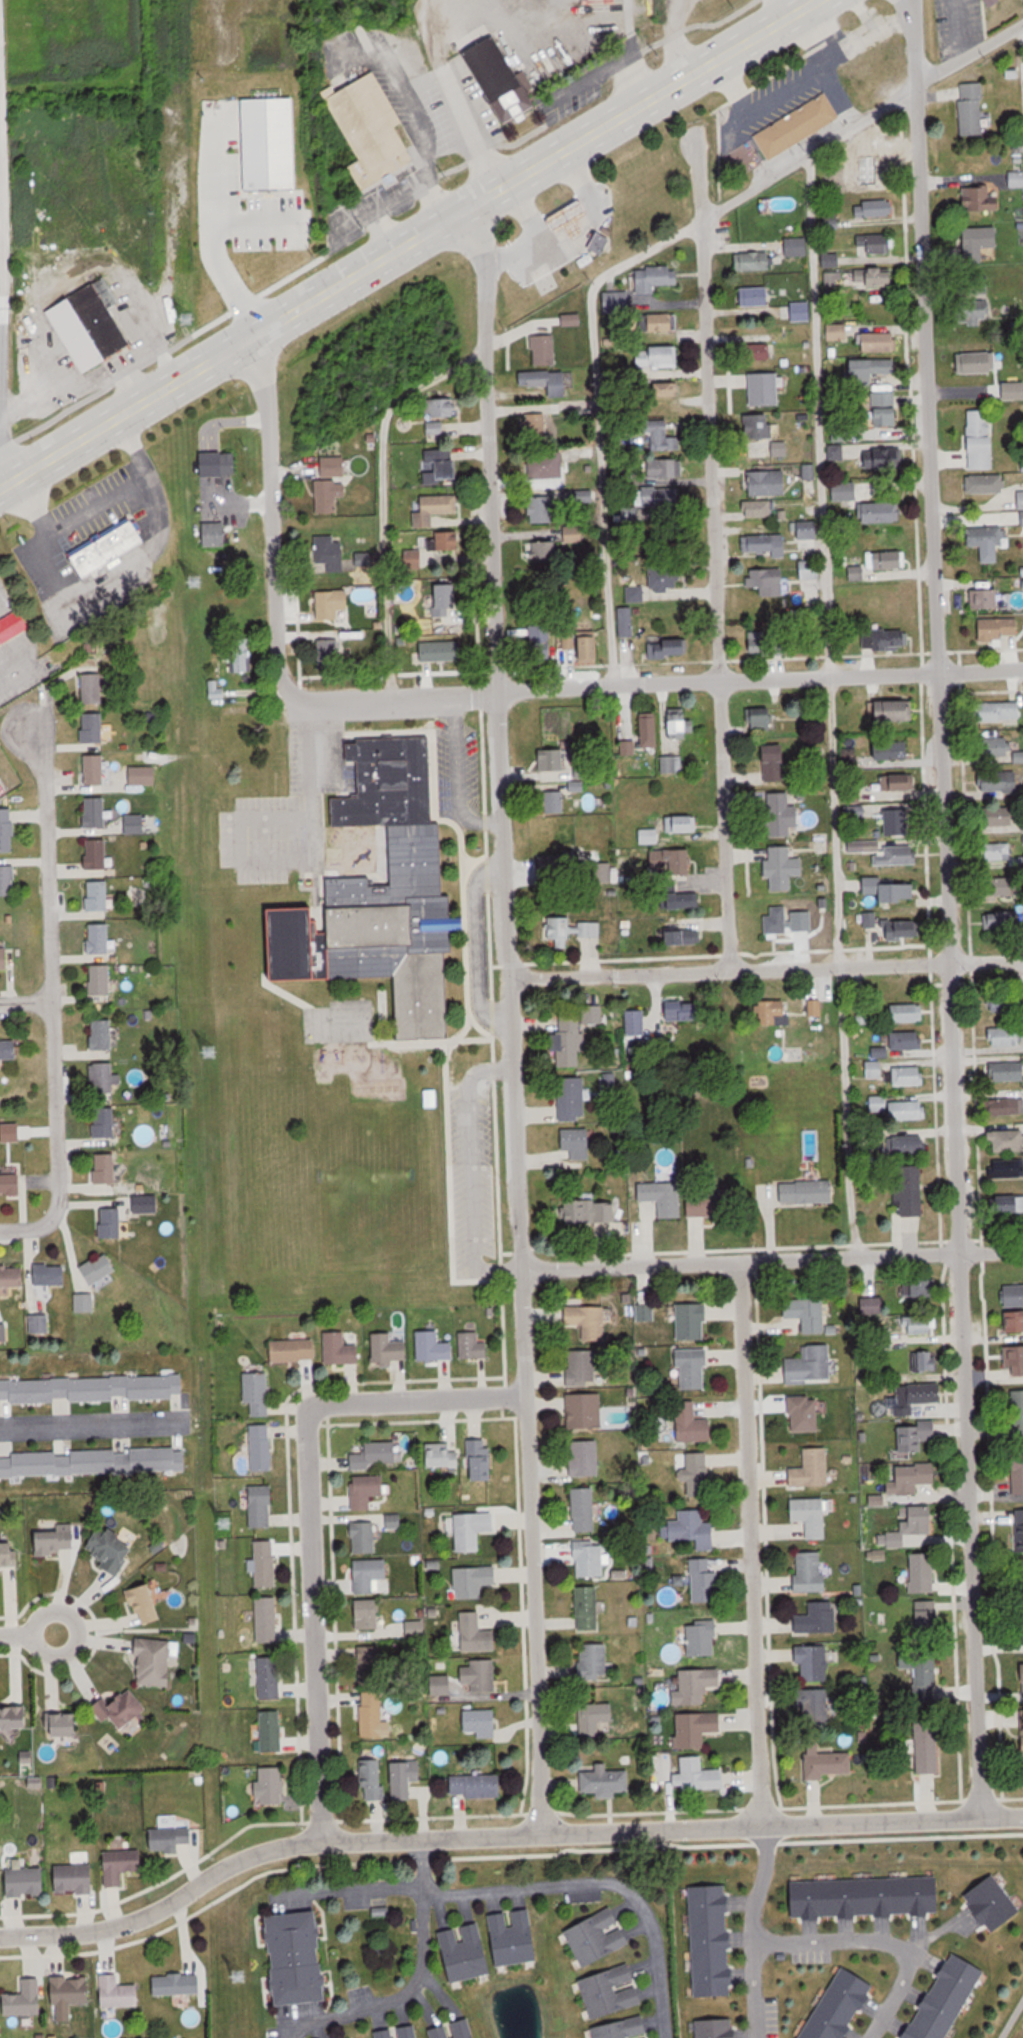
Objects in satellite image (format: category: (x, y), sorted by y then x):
building: (992, 3)
road: (824, 26)
road: (874, 27)
road: (957, 32)
road: (846, 47)
building: (501, 81)
road: (417, 90)
road: (839, 95)
road: (757, 106)
building: (971, 110)
road: (862, 122)
building: (797, 126)
building: (372, 132)
building: (208, 133)
building: (270, 144)
building: (1015, 179)
road: (588, 185)
building: (978, 200)
building: (874, 208)
road: (383, 214)
road: (529, 214)
building: (574, 219)
building: (830, 220)
road: (580, 228)
road: (210, 238)
road: (1, 240)
building: (980, 240)
building: (598, 242)
road: (405, 243)
building: (874, 244)
building: (797, 247)
road: (531, 255)
building: (756, 261)
building: (875, 277)
building: (655, 279)
building: (755, 297)
building: (977, 315)
power tower: (191, 322)
building: (664, 324)
building: (91, 326)
building: (837, 332)
building: (879, 343)
building: (545, 351)
building: (751, 353)
building: (658, 357)
building: (981, 363)
building: (871, 369)
building: (542, 382)
building: (762, 390)
road: (2, 391)
building: (1012, 391)
building: (664, 392)
building: (886, 407)
building: (442, 409)
road: (598, 420)
building: (536, 426)
building: (435, 430)
building: (754, 436)
building: (663, 438)
building: (980, 440)
building: (779, 450)
building: (221, 464)
building: (547, 466)
building: (441, 467)
building: (666, 469)
building: (768, 483)
building: (332, 484)
building: (985, 484)
building: (844, 492)
road: (383, 495)
building: (658, 497)
building: (575, 498)
building: (1021, 500)
road: (101, 503)
building: (542, 507)
road: (263, 508)
building: (435, 509)
building: (759, 509)
building: (880, 513)
building: (808, 530)
building: (215, 535)
building: (573, 535)
building: (661, 537)
building: (449, 542)
building: (989, 542)
building: (765, 546)
building: (110, 547)
building: (542, 551)
road: (715, 553)
building: (330, 554)
building: (876, 563)
building: (811, 570)
building: (667, 579)
power tower: (198, 582)
building: (767, 582)
building: (636, 595)
building: (985, 599)
building: (446, 600)
building: (333, 604)
building: (626, 622)
building: (14, 628)
building: (999, 629)
building: (886, 639)
building: (772, 641)
building: (540, 642)
building: (584, 645)
building: (669, 647)
building: (365, 648)
building: (442, 651)
building: (240, 664)
road: (648, 682)
building: (94, 687)
road: (829, 707)
building: (891, 710)
building: (1002, 710)
building: (763, 717)
building: (680, 724)
building: (94, 727)
building: (649, 728)
building: (1002, 749)
building: (550, 758)
building: (775, 762)
building: (672, 764)
building: (95, 769)
building: (589, 770)
building: (145, 774)
building: (999, 780)
building: (898, 782)
road: (452, 783)
building: (96, 810)
building: (782, 813)
building: (856, 813)
building: (1002, 817)
building: (897, 821)
building: (136, 823)
building: (687, 823)
building: (8, 829)
building: (887, 852)
building: (1003, 852)
building: (98, 853)
building: (682, 860)
building: (559, 862)
road: (298, 866)
building: (784, 867)
building: (8, 877)
building: (1003, 885)
building: (889, 892)
building: (384, 894)
building: (99, 895)
building: (685, 899)
road: (943, 908)
building: (777, 919)
building: (999, 920)
building: (589, 928)
building: (900, 929)
building: (558, 930)
building: (685, 934)
building: (101, 938)
road: (477, 946)
building: (5, 957)
road: (765, 967)
building: (102, 979)
road: (42, 999)
road: (21, 1000)
building: (1007, 1005)
building: (817, 1008)
building: (684, 1010)
building: (776, 1012)
building: (911, 1013)
building: (595, 1014)
building: (861, 1017)
road: (510, 1018)
building: (635, 1021)
building: (104, 1034)
building: (1005, 1037)
building: (569, 1040)
building: (907, 1041)
building: (9, 1049)
building: (878, 1052)
power tower: (208, 1055)
building: (874, 1070)
building: (1004, 1072)
building: (909, 1075)
building: (105, 1079)
building: (572, 1099)
building: (1004, 1107)
building: (898, 1108)
building: (105, 1122)
building: (1007, 1137)
building: (576, 1143)
building: (911, 1145)
building: (107, 1168)
building: (1007, 1168)
road: (471, 1174)
building: (11, 1184)
building: (663, 1186)
building: (910, 1190)
building: (807, 1192)
building: (148, 1204)
building: (713, 1204)
building: (1011, 1204)
building: (594, 1210)
building: (111, 1222)
road: (773, 1260)
building: (100, 1269)
building: (51, 1274)
building: (12, 1277)
building: (925, 1288)
building: (1014, 1294)
building: (85, 1303)
building: (870, 1306)
building: (807, 1313)
building: (692, 1322)
building: (1015, 1322)
building: (588, 1323)
building: (40, 1324)
building: (921, 1324)
building: (474, 1346)
building: (344, 1347)
building: (390, 1347)
building: (435, 1347)
building: (295, 1350)
building: (923, 1360)
building: (1015, 1360)
building: (581, 1368)
building: (693, 1368)
building: (809, 1368)
building: (94, 1391)
building: (258, 1392)
building: (918, 1396)
road: (417, 1399)
building: (585, 1410)
building: (804, 1414)
building: (1018, 1414)
road: (96, 1418)
building: (694, 1425)
building: (917, 1437)
building: (262, 1447)
building: (376, 1455)
building: (444, 1455)
building: (585, 1457)
building: (483, 1459)
building: (94, 1461)
building: (812, 1469)
building: (699, 1474)
building: (1018, 1474)
building: (914, 1478)
building: (369, 1491)
building: (261, 1506)
building: (585, 1509)
building: (811, 1515)
building: (395, 1521)
power tower: (225, 1522)
building: (689, 1527)
building: (915, 1528)
building: (473, 1530)
building: (365, 1537)
building: (57, 1539)
road: (747, 1544)
building: (111, 1548)
building: (10, 1553)
building: (590, 1558)
building: (267, 1563)
building: (811, 1571)
building: (923, 1572)
building: (370, 1574)
building: (474, 1580)
building: (706, 1580)
building: (146, 1604)
building: (589, 1608)
building: (369, 1613)
building: (818, 1617)
building: (927, 1617)
building: (268, 1619)
road: (314, 1626)
road: (78, 1630)
building: (477, 1634)
road: (16, 1635)
building: (704, 1639)
building: (907, 1659)
building: (593, 1660)
building: (817, 1661)
building: (156, 1662)
building: (377, 1667)
building: (928, 1673)
building: (481, 1675)
building: (271, 1677)
building: (698, 1686)
building: (817, 1706)
building: (124, 1708)
building: (373, 1714)
building: (15, 1717)
building: (598, 1720)
building: (482, 1722)
building: (67, 1723)
building: (698, 1729)
building: (272, 1731)
building: (828, 1763)
building: (699, 1776)
building: (374, 1777)
building: (406, 1779)
building: (605, 1782)
building: (272, 1786)
building: (478, 1786)
road: (501, 1833)
building: (173, 1836)
road: (418, 1863)
building: (123, 1865)
building: (75, 1879)
road: (599, 1880)
building: (27, 1881)
road: (762, 1885)
road: (359, 1891)
building: (867, 1898)
building: (515, 1937)
building: (598, 1937)
building: (711, 1942)
road: (879, 1942)
building: (466, 1953)
building: (299, 1957)
power tower: (236, 1980)
building: (178, 1984)
road: (755, 1991)
building: (72, 1992)
building: (120, 1992)
building: (611, 1992)
road: (389, 1994)
building: (947, 1998)
building: (26, 1999)
road: (1013, 2021)
building: (716, 2028)
building: (467, 2029)
building: (622, 2029)
building: (409, 2032)
building: (441, 2032)
building: (385, 2034)

